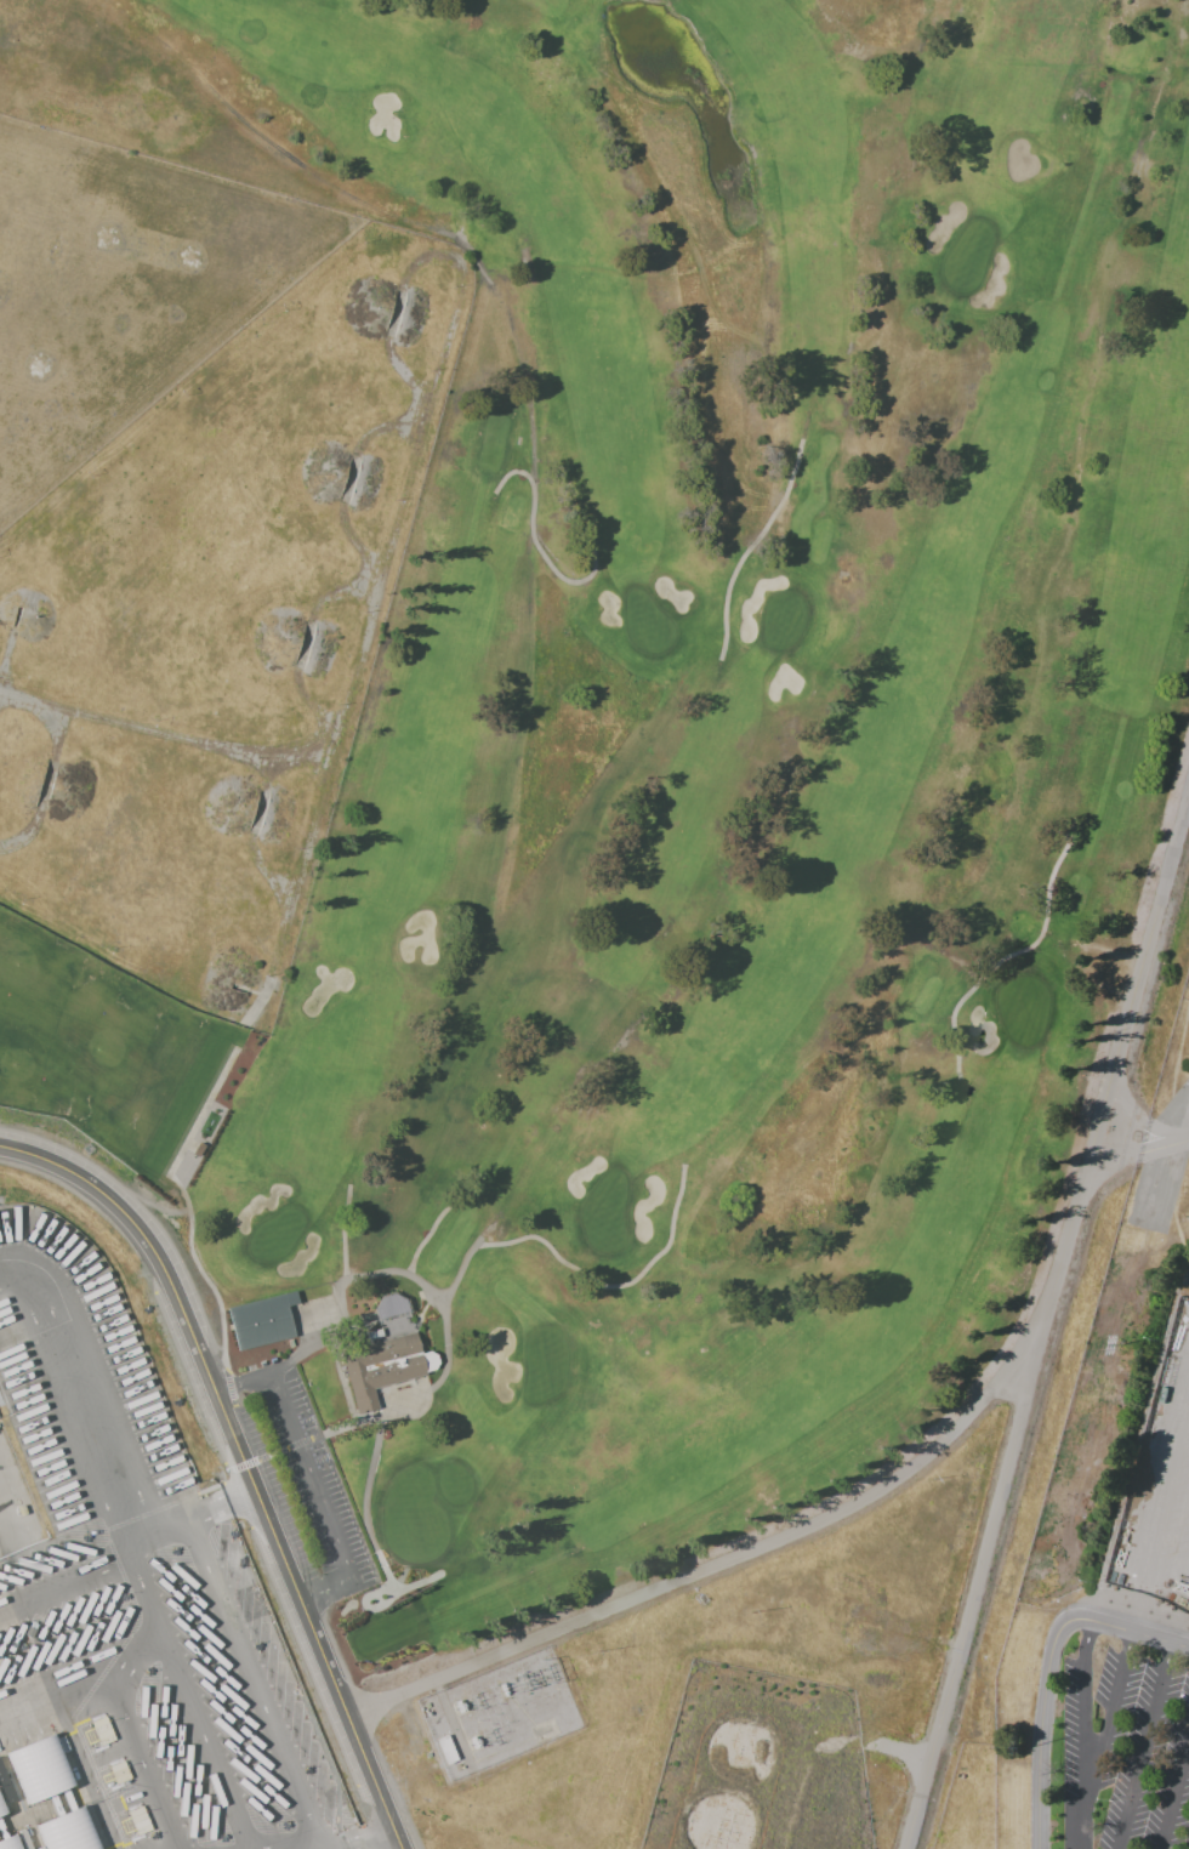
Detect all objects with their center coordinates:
road: (375, 598)
park: (688, 781)
road: (1143, 1120)
road: (1139, 1151)
building: (261, 1320)
road: (1048, 1326)
building: (379, 1366)
road: (73, 1400)
airport: (2, 1406)
road: (1137, 1446)
road: (246, 1461)
road: (308, 1470)
parking lot: (301, 1480)
road: (243, 1497)
airport: (15, 1507)
road: (177, 1523)
road: (760, 1549)
road: (67, 1580)
road: (146, 1587)
parking lot: (131, 1601)
road: (317, 1601)
road: (1122, 1628)
parking lot: (1142, 1629)
road: (334, 1643)
road: (136, 1659)
road: (254, 1682)
road: (51, 1695)
road: (1116, 1702)
road: (359, 1709)
power substation: (495, 1712)
road: (1081, 1734)
road: (206, 1740)
road: (1042, 1740)
road: (1145, 1746)
building: (445, 1750)
road: (141, 1764)
building: (118, 1771)
building: (38, 1777)
building: (6, 1788)
road: (1173, 1796)
road: (394, 1797)
building: (1, 1815)
building: (67, 1834)
road: (348, 1841)
building: (8, 1845)

